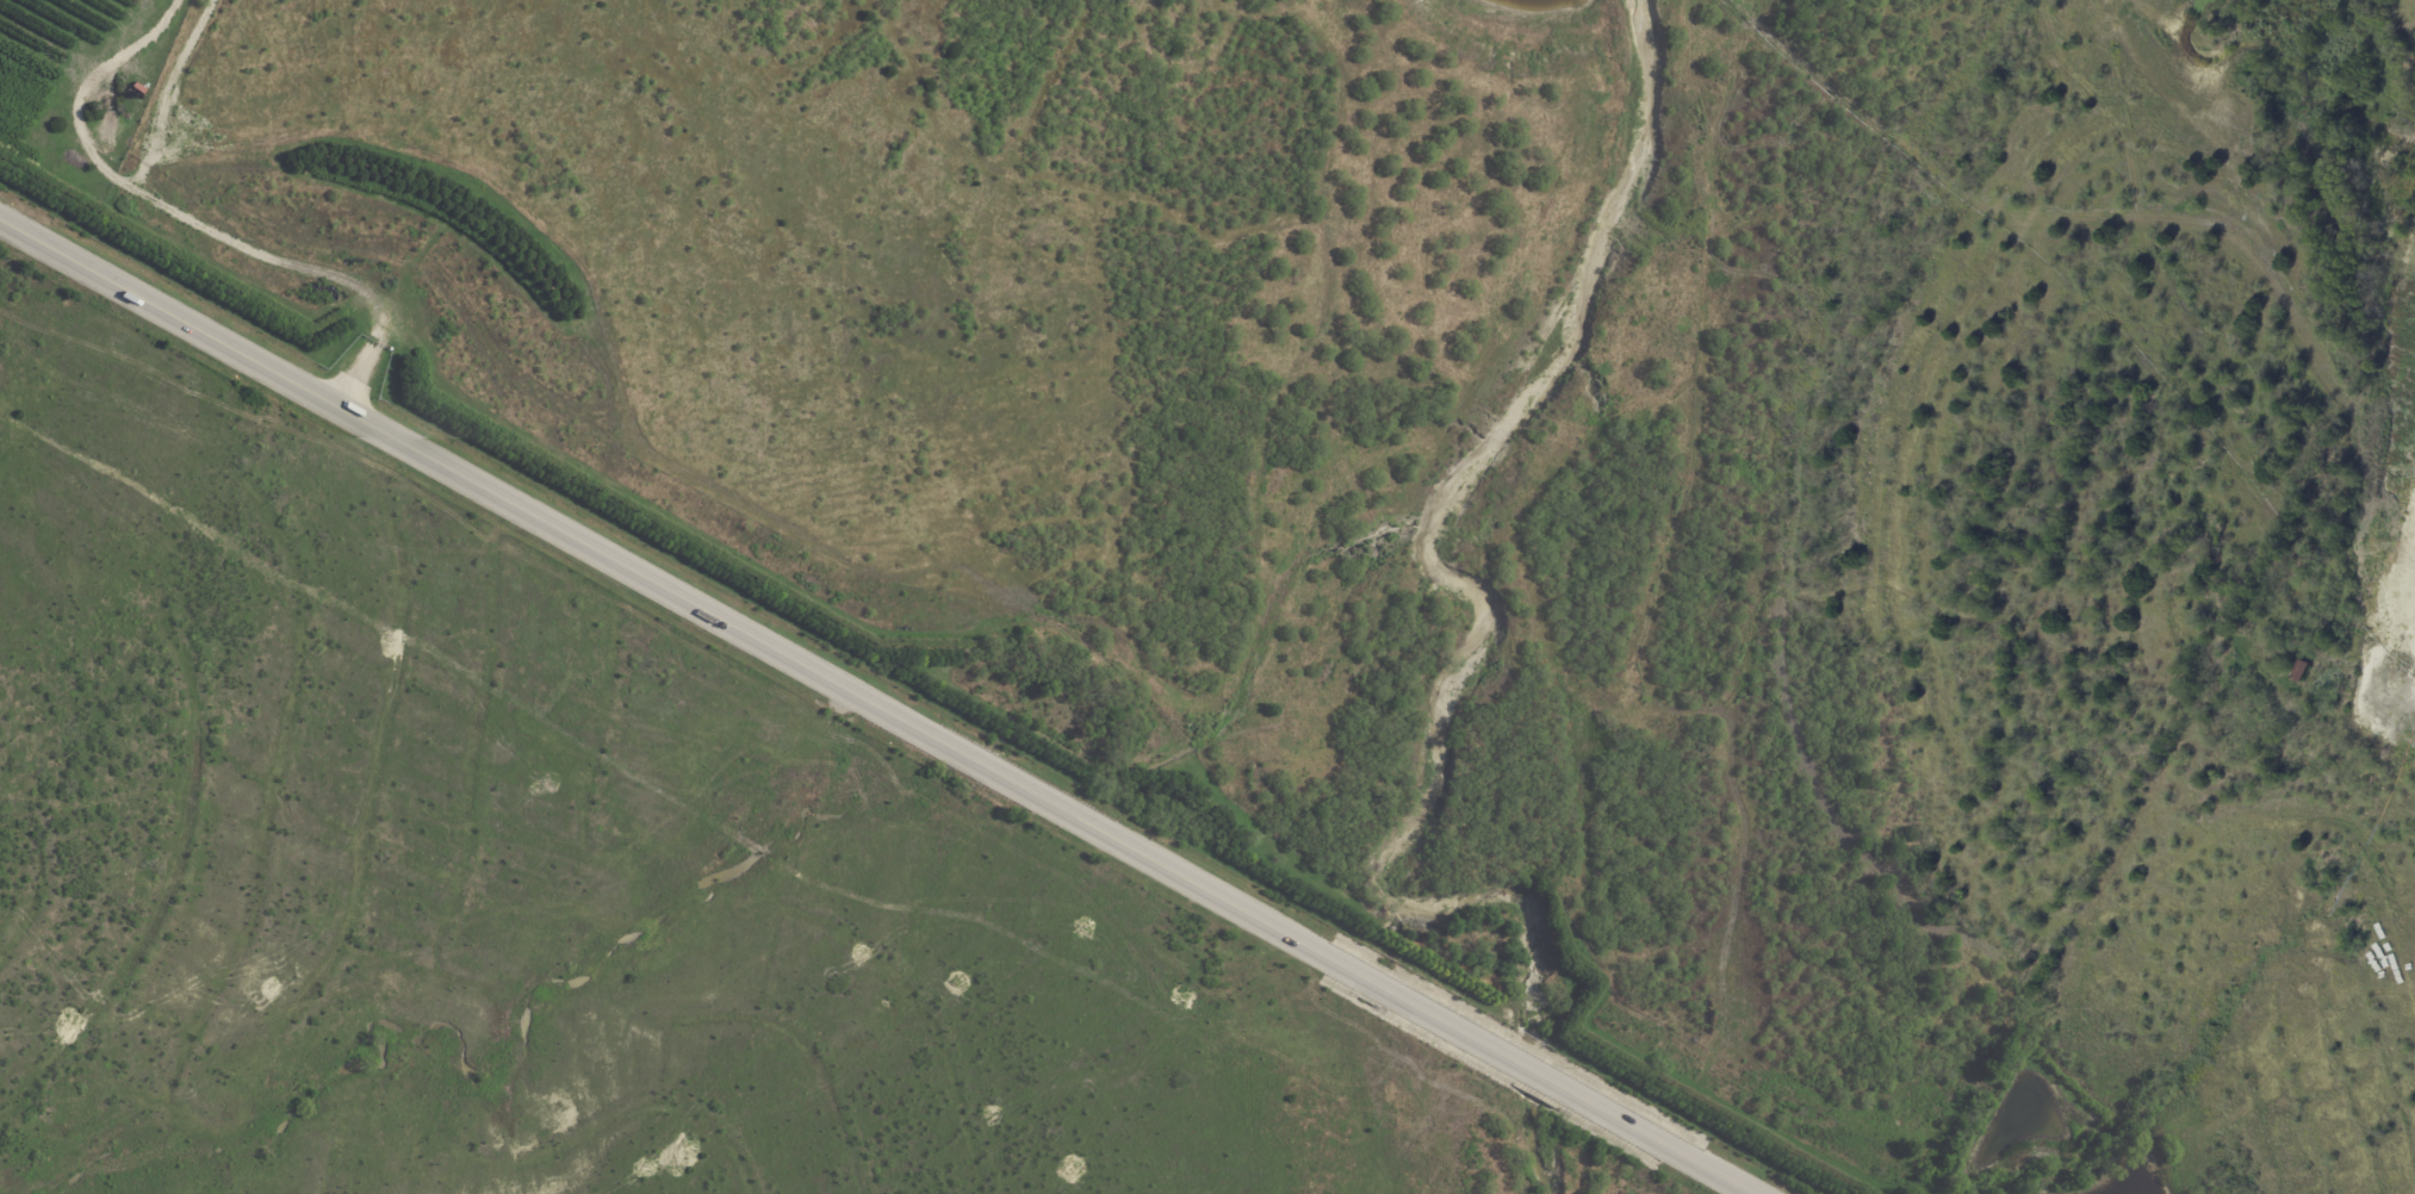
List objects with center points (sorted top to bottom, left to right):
building: (2303, 670)
road: (876, 705)
road: (427, 920)
road: (57, 944)
road: (336, 1080)

